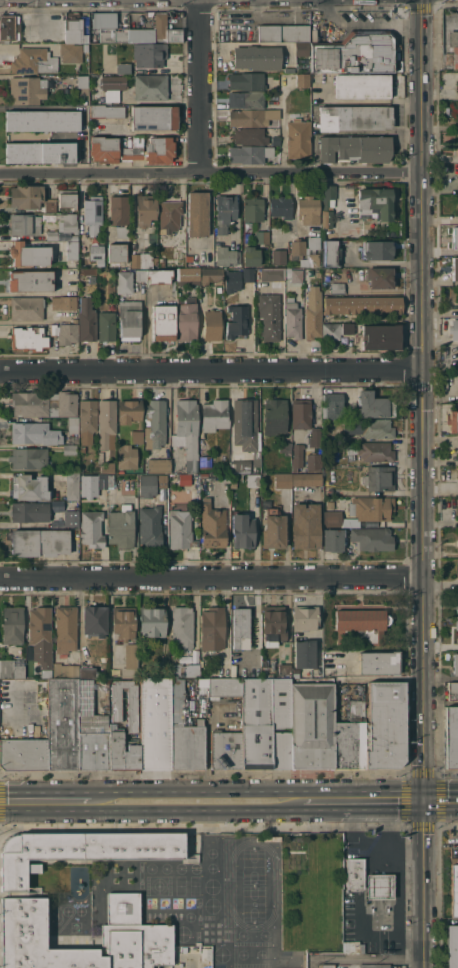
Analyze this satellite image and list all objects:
road: (35, 15)
building: (103, 19)
building: (9, 27)
building: (74, 29)
building: (165, 29)
building: (282, 33)
building: (114, 35)
building: (142, 35)
building: (302, 48)
building: (454, 49)
building: (71, 52)
building: (355, 53)
building: (149, 54)
building: (256, 57)
building: (34, 61)
building: (123, 68)
building: (289, 69)
building: (303, 80)
building: (246, 81)
building: (82, 85)
building: (362, 85)
road: (202, 86)
building: (457, 86)
building: (113, 87)
building: (151, 87)
building: (27, 90)
building: (246, 99)
road: (41, 107)
building: (106, 111)
building: (252, 117)
building: (355, 117)
building: (154, 118)
building: (42, 120)
building: (250, 136)
building: (298, 139)
building: (275, 140)
building: (355, 148)
building: (104, 149)
building: (133, 149)
building: (161, 149)
building: (40, 152)
building: (249, 154)
road: (211, 172)
building: (26, 196)
building: (67, 198)
building: (376, 201)
building: (50, 204)
building: (327, 204)
building: (281, 206)
building: (145, 209)
building: (252, 209)
building: (308, 209)
building: (119, 210)
building: (93, 213)
building: (197, 213)
building: (169, 216)
building: (68, 223)
building: (24, 224)
building: (225, 229)
building: (123, 231)
building: (51, 235)
building: (67, 236)
building: (454, 238)
building: (263, 244)
building: (72, 250)
building: (306, 250)
building: (378, 250)
building: (96, 252)
building: (117, 252)
building: (331, 253)
building: (29, 254)
building: (251, 256)
building: (279, 256)
building: (135, 260)
building: (454, 268)
building: (140, 274)
building: (248, 274)
building: (272, 274)
building: (159, 275)
building: (211, 275)
building: (296, 275)
building: (86, 276)
building: (189, 276)
building: (380, 277)
building: (29, 280)
building: (232, 280)
building: (124, 281)
road: (423, 287)
building: (91, 288)
building: (337, 288)
building: (64, 302)
building: (362, 305)
building: (27, 308)
building: (313, 313)
building: (270, 316)
building: (187, 318)
building: (87, 319)
building: (129, 319)
building: (293, 319)
building: (237, 321)
building: (163, 322)
building: (212, 324)
building: (106, 326)
building: (454, 329)
building: (336, 331)
building: (65, 333)
building: (381, 337)
building: (28, 338)
road: (212, 372)
building: (44, 403)
building: (333, 405)
building: (375, 405)
building: (129, 410)
building: (301, 413)
building: (214, 415)
building: (275, 416)
building: (88, 420)
building: (452, 420)
building: (155, 423)
building: (245, 423)
building: (72, 424)
building: (107, 424)
building: (369, 428)
building: (188, 430)
building: (35, 433)
building: (137, 437)
building: (314, 438)
building: (285, 447)
building: (70, 449)
building: (83, 449)
building: (374, 451)
building: (297, 456)
building: (127, 457)
building: (29, 458)
building: (314, 461)
building: (205, 463)
building: (105, 464)
building: (159, 465)
building: (239, 466)
building: (224, 476)
building: (379, 478)
building: (307, 479)
building: (110, 480)
building: (283, 480)
building: (253, 481)
building: (93, 484)
building: (150, 484)
building: (234, 485)
building: (72, 486)
building: (30, 487)
building: (329, 504)
building: (457, 504)
building: (368, 509)
building: (29, 511)
building: (71, 518)
building: (332, 518)
building: (212, 525)
building: (305, 525)
building: (121, 527)
building: (150, 527)
building: (91, 529)
building: (181, 529)
building: (243, 530)
building: (273, 530)
building: (372, 538)
building: (333, 539)
building: (54, 547)
building: (457, 567)
road: (212, 577)
building: (457, 609)
building: (305, 618)
building: (95, 620)
building: (152, 621)
building: (123, 623)
building: (456, 623)
building: (13, 625)
building: (273, 625)
building: (360, 625)
building: (182, 627)
building: (66, 628)
building: (241, 628)
building: (212, 629)
building: (457, 633)
building: (41, 635)
building: (304, 653)
building: (130, 660)
building: (379, 663)
building: (455, 664)
building: (12, 668)
building: (65, 669)
building: (186, 669)
building: (285, 669)
building: (87, 671)
road: (441, 677)
building: (224, 686)
road: (425, 688)
building: (36, 691)
building: (453, 691)
road: (18, 707)
building: (132, 709)
building: (155, 722)
building: (266, 723)
building: (63, 724)
building: (312, 725)
building: (385, 725)
building: (6, 729)
building: (91, 730)
building: (185, 733)
building: (451, 737)
building: (351, 738)
building: (226, 750)
building: (123, 753)
building: (24, 754)
road: (441, 800)
road: (362, 801)
traffic signals: (425, 801)
road: (48, 802)
road: (198, 802)
road: (386, 824)
road: (371, 847)
building: (80, 850)
building: (355, 873)
road: (425, 884)
building: (380, 886)
building: (454, 887)
road: (398, 904)
building: (137, 936)
building: (452, 946)
building: (349, 947)
building: (184, 949)
building: (206, 954)
road: (366, 961)
building: (327, 966)
building: (374, 966)

